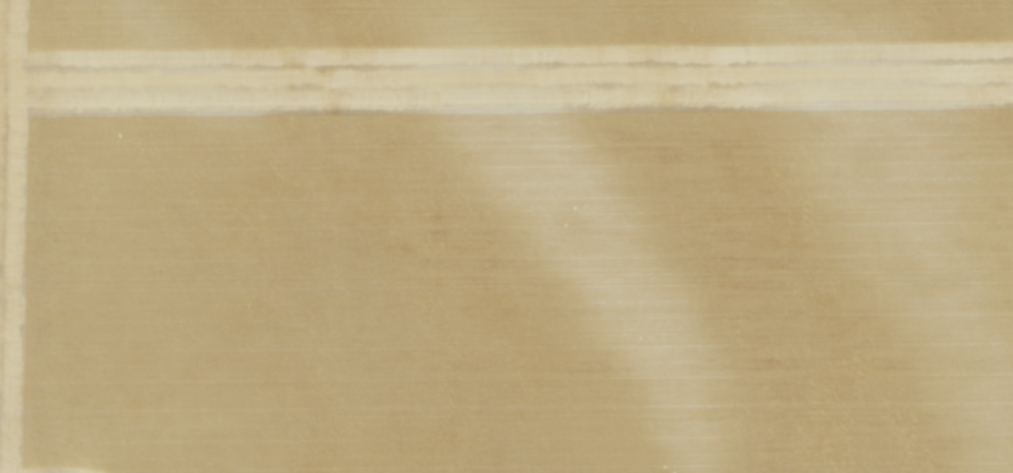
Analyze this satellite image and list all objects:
crop: (506, 236)

